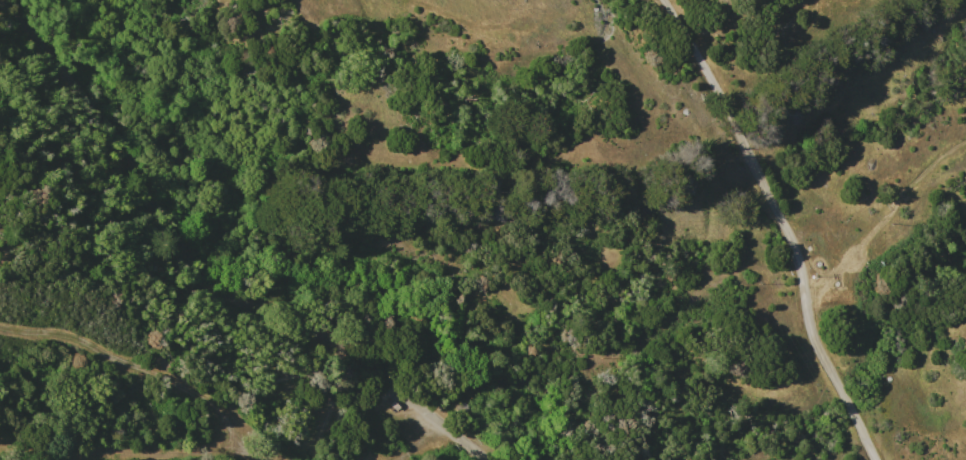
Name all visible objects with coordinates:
road: (886, 217)
road: (783, 227)
road: (204, 272)
road: (148, 363)
road: (415, 441)

